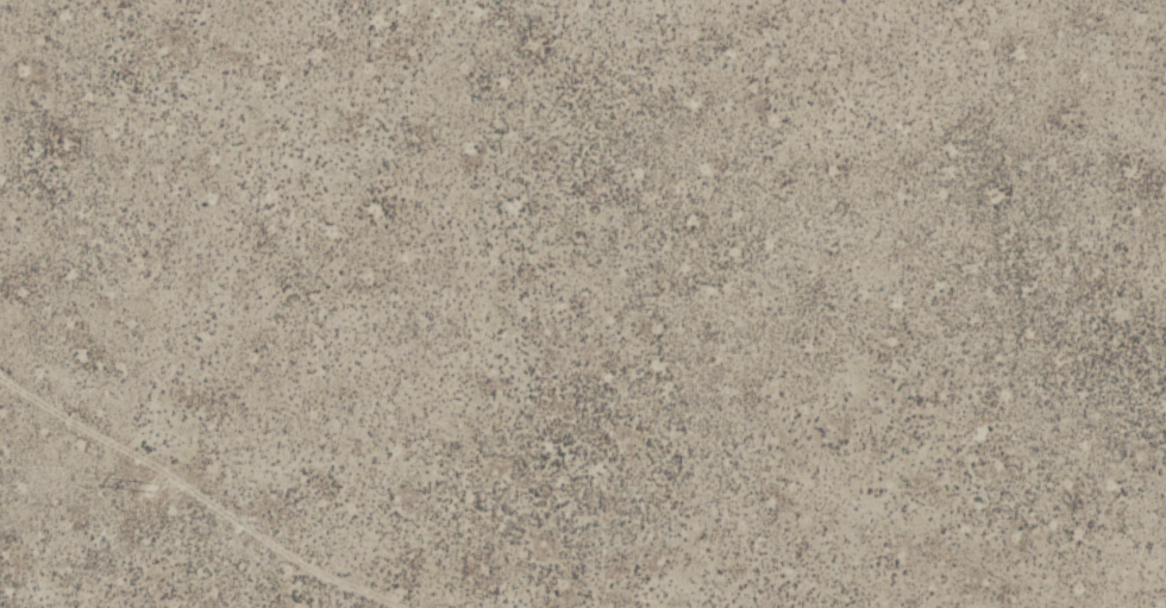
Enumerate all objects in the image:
power tower: (150, 490)

